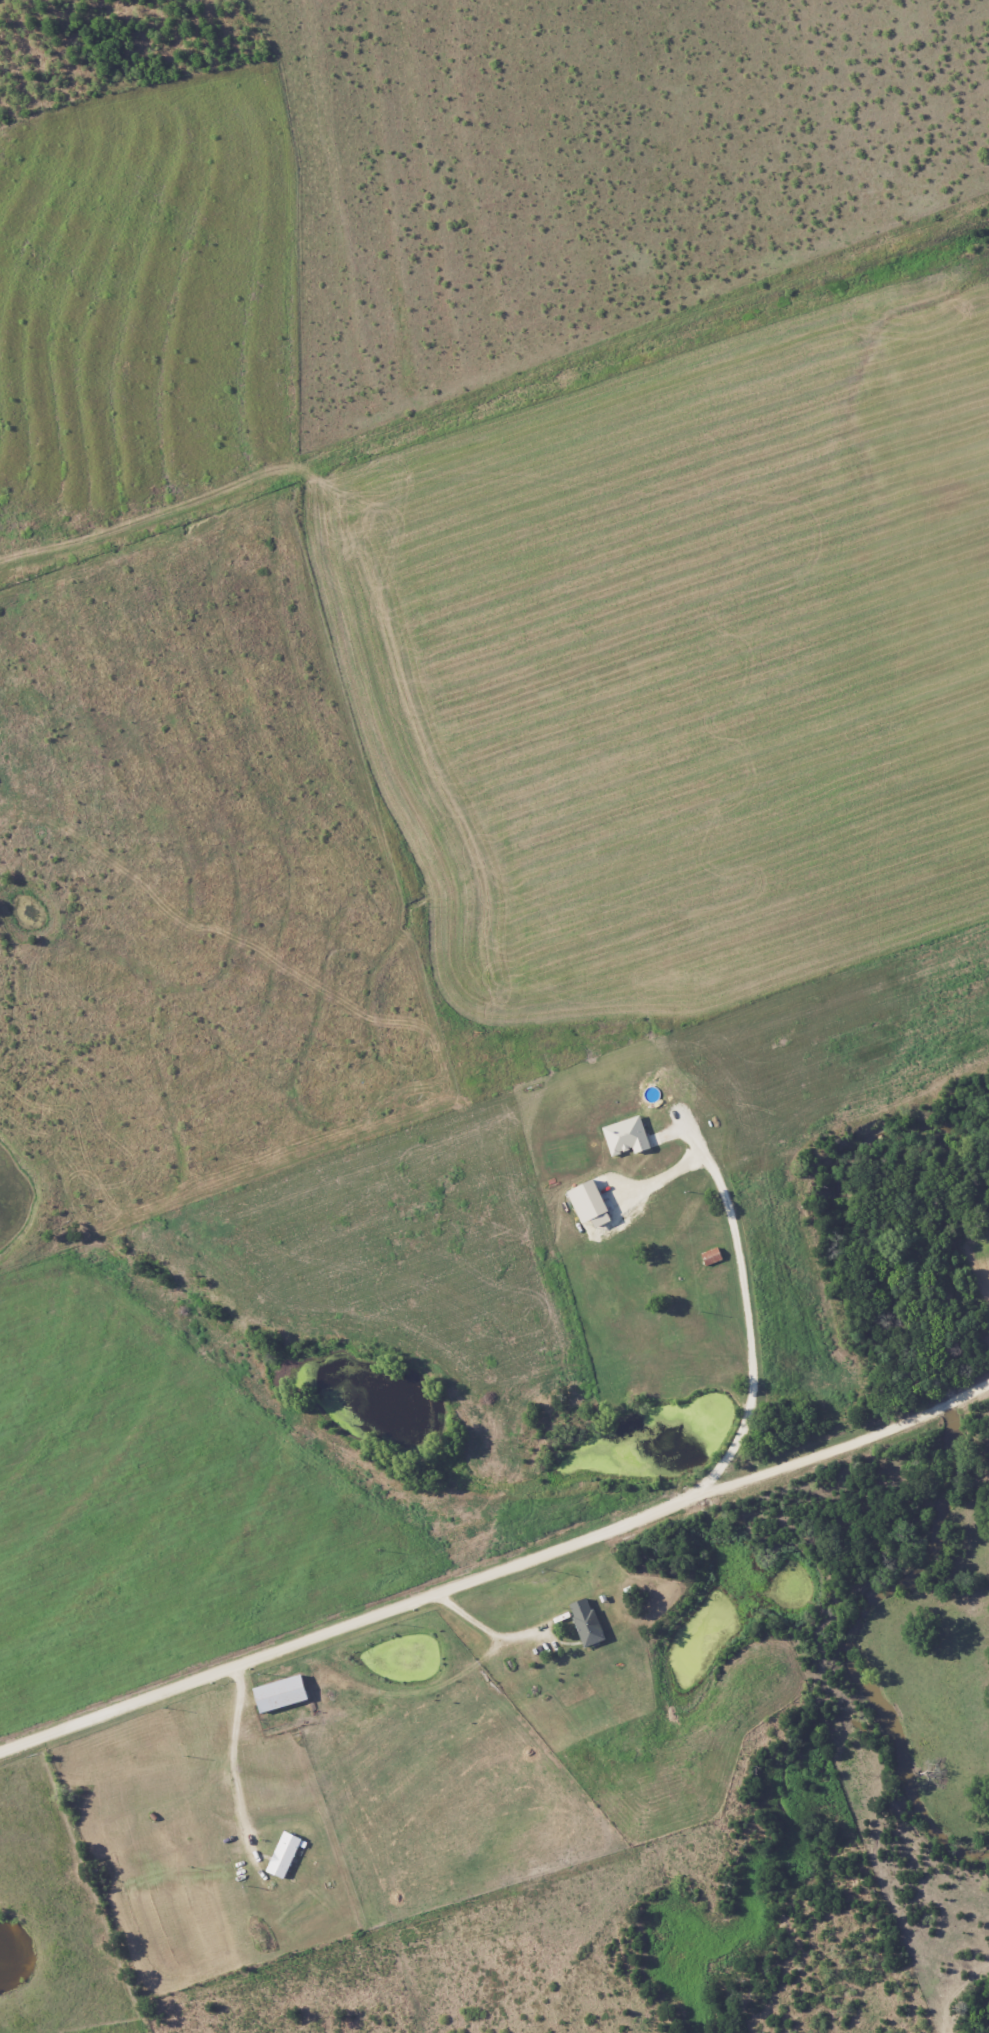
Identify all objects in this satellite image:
building: (627, 1135)
building: (591, 1202)
building: (713, 1255)
road: (762, 1335)
road: (495, 1579)
building: (587, 1621)
road: (486, 1641)
building: (282, 1693)
road: (232, 1763)
building: (284, 1854)

